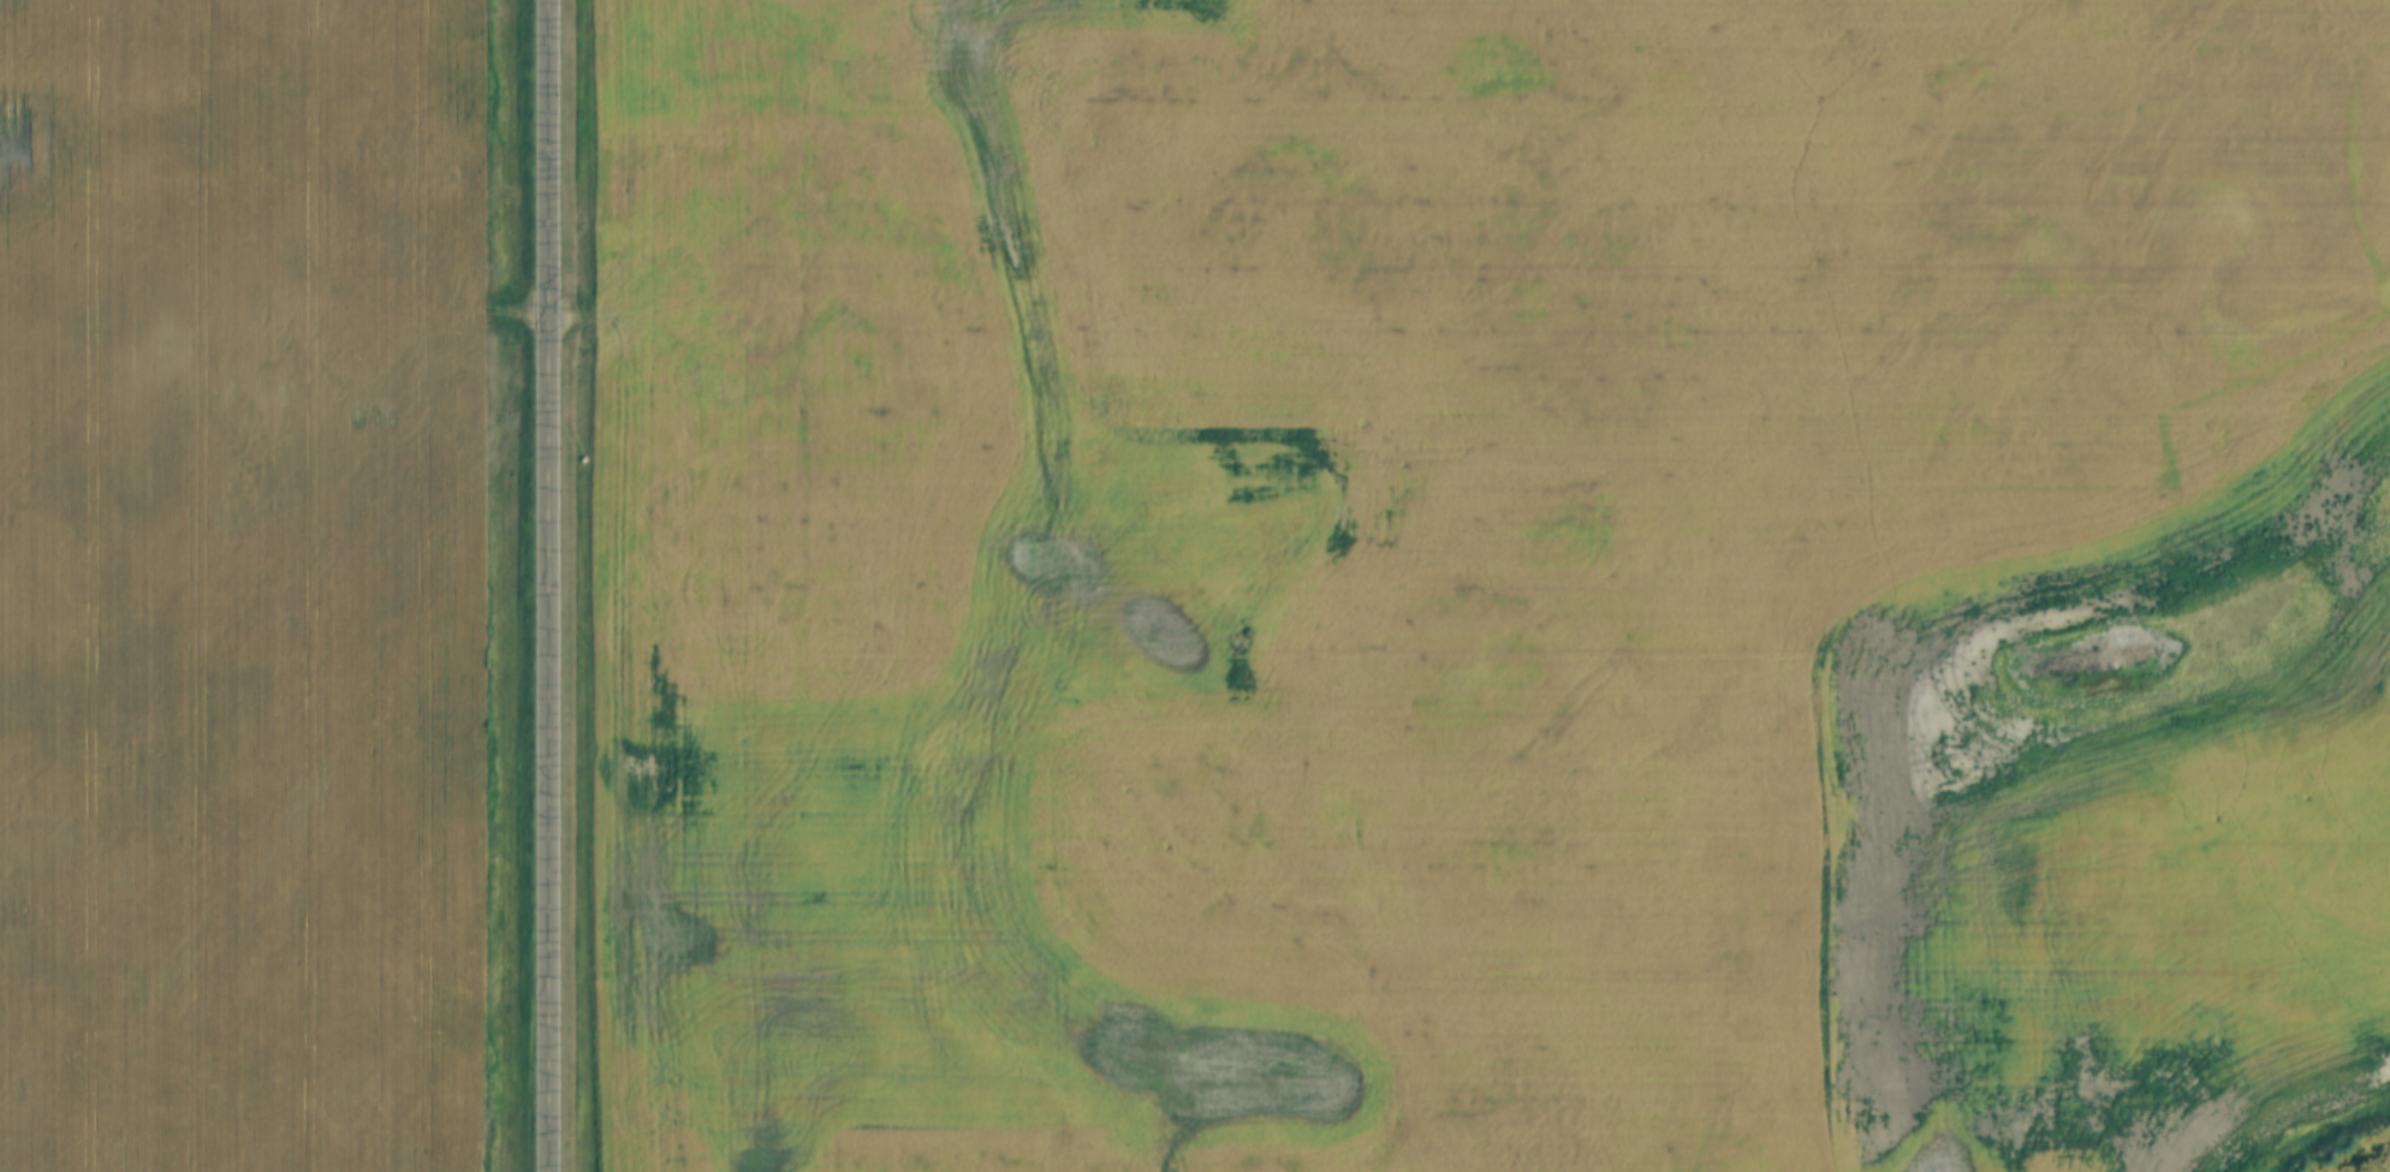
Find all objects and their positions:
road: (546, 585)

